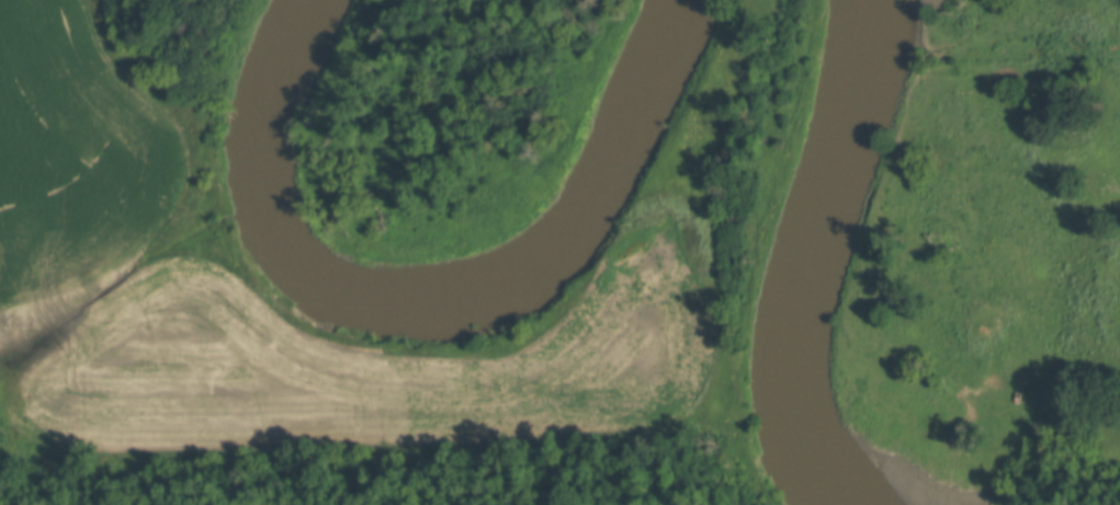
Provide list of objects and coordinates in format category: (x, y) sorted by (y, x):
river: (819, 248)
river: (429, 295)

